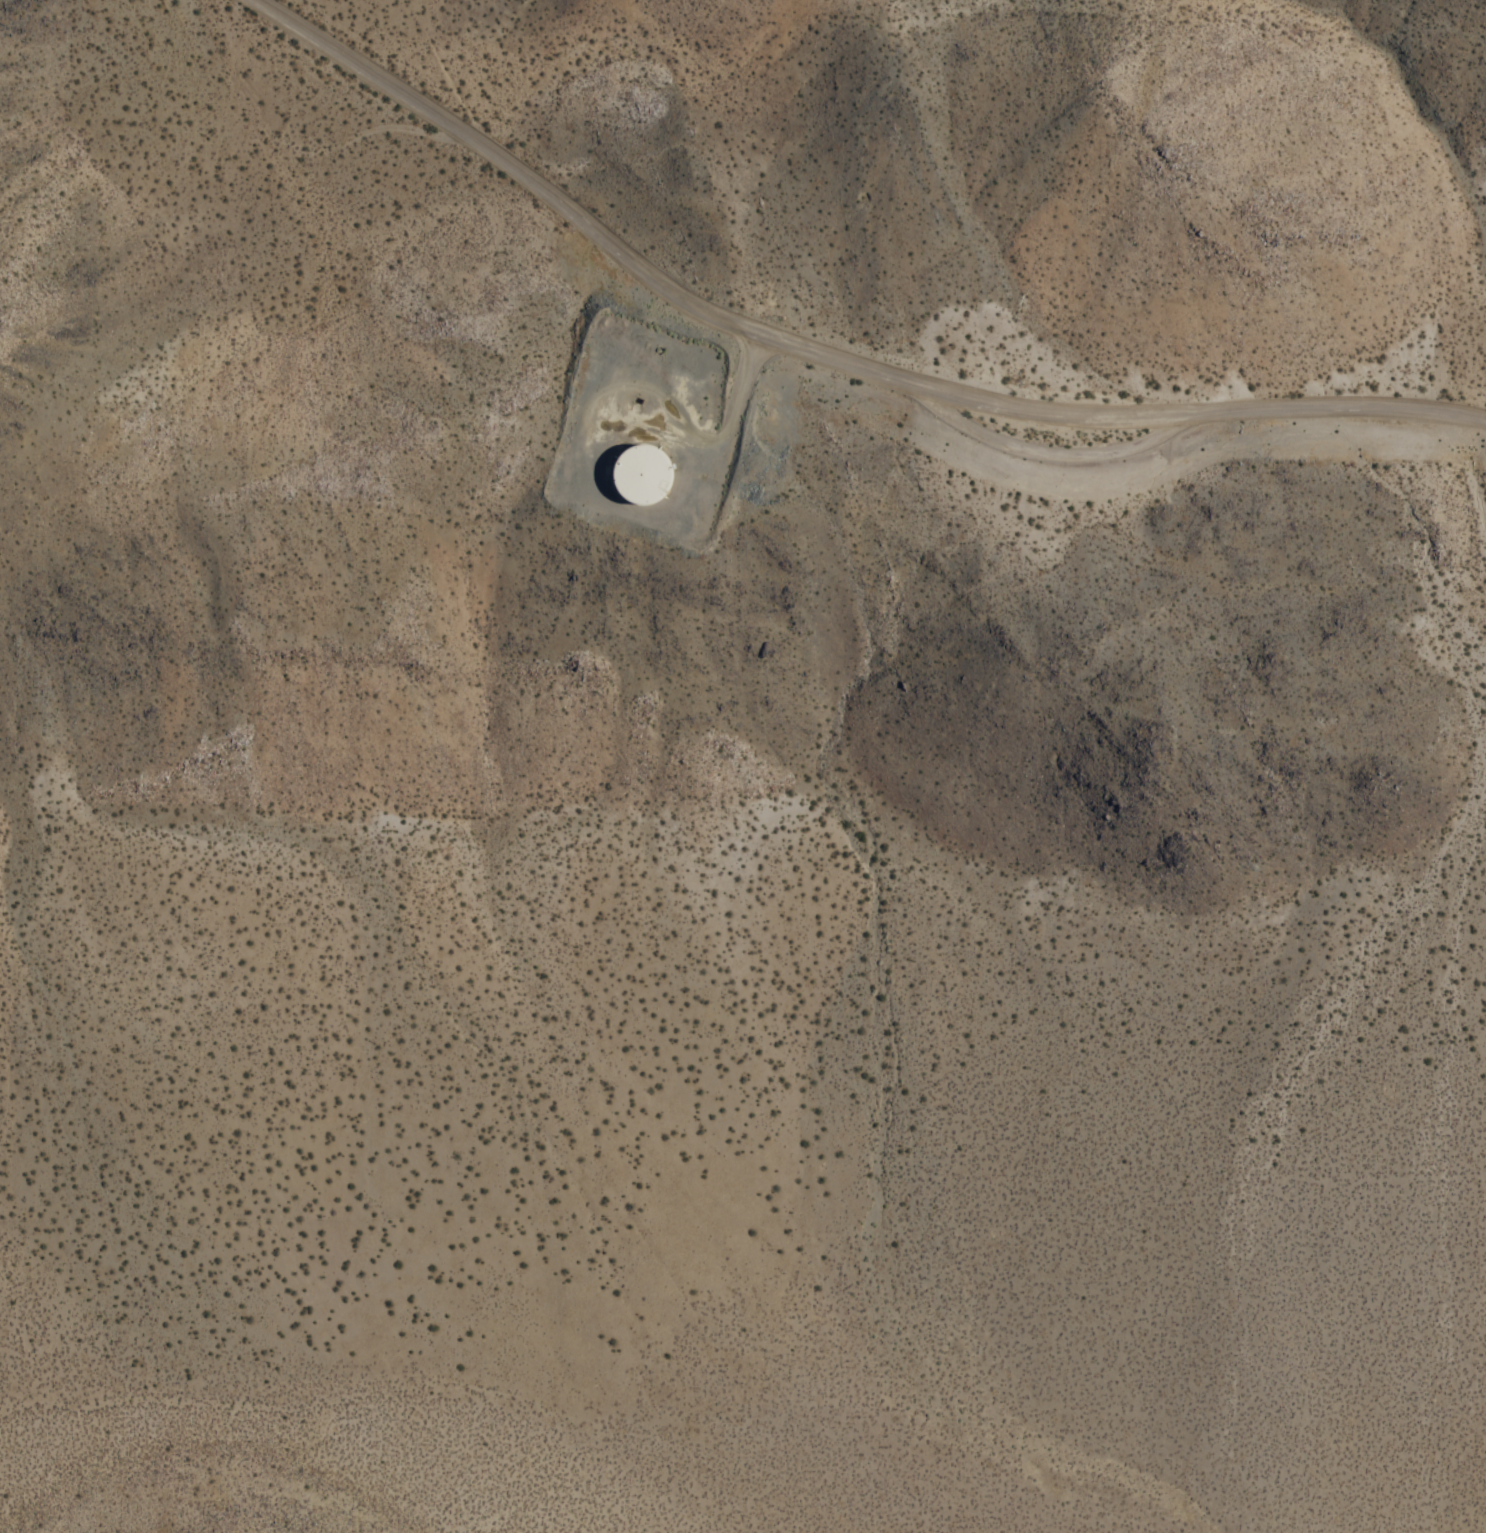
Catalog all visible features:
road: (822, 353)
road: (734, 406)
building: (643, 470)
storage tank: (643, 470)

